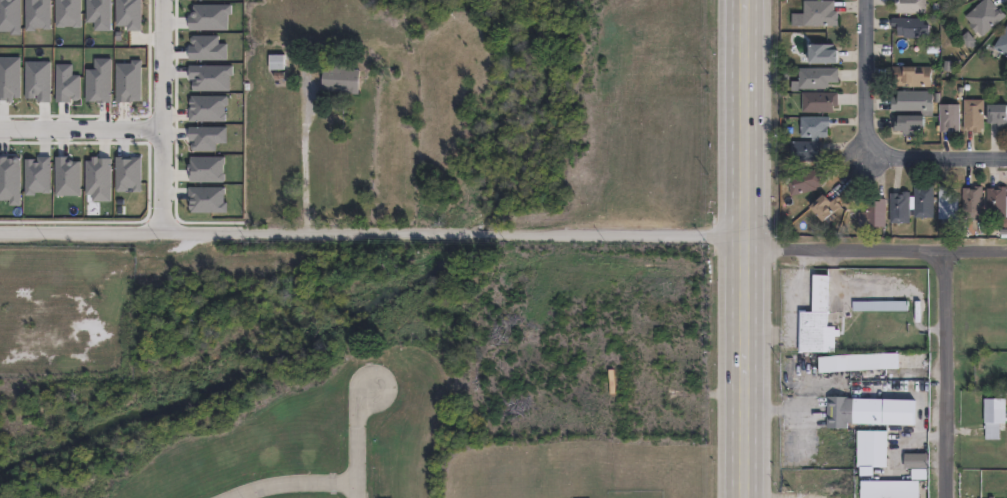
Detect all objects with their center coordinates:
building: (909, 5)
building: (815, 13)
building: (984, 17)
building: (909, 26)
building: (1002, 42)
building: (821, 53)
building: (276, 62)
building: (911, 75)
building: (340, 77)
building: (817, 77)
building: (912, 100)
building: (819, 101)
building: (973, 114)
building: (997, 115)
road: (159, 116)
building: (948, 117)
building: (908, 124)
road: (79, 126)
building: (813, 126)
road: (879, 134)
building: (804, 150)
road: (304, 162)
building: (805, 181)
building: (971, 202)
building: (996, 202)
building: (911, 204)
building: (947, 204)
building: (822, 207)
building: (873, 213)
road: (374, 235)
road: (748, 249)
road: (877, 250)
road: (837, 279)
building: (880, 306)
building: (815, 321)
road: (931, 325)
road: (769, 337)
building: (857, 363)
road: (949, 374)
road: (775, 410)
building: (994, 411)
building: (869, 412)
road: (803, 418)
road: (358, 436)
building: (869, 451)
building: (916, 465)
road: (295, 483)
building: (888, 489)

